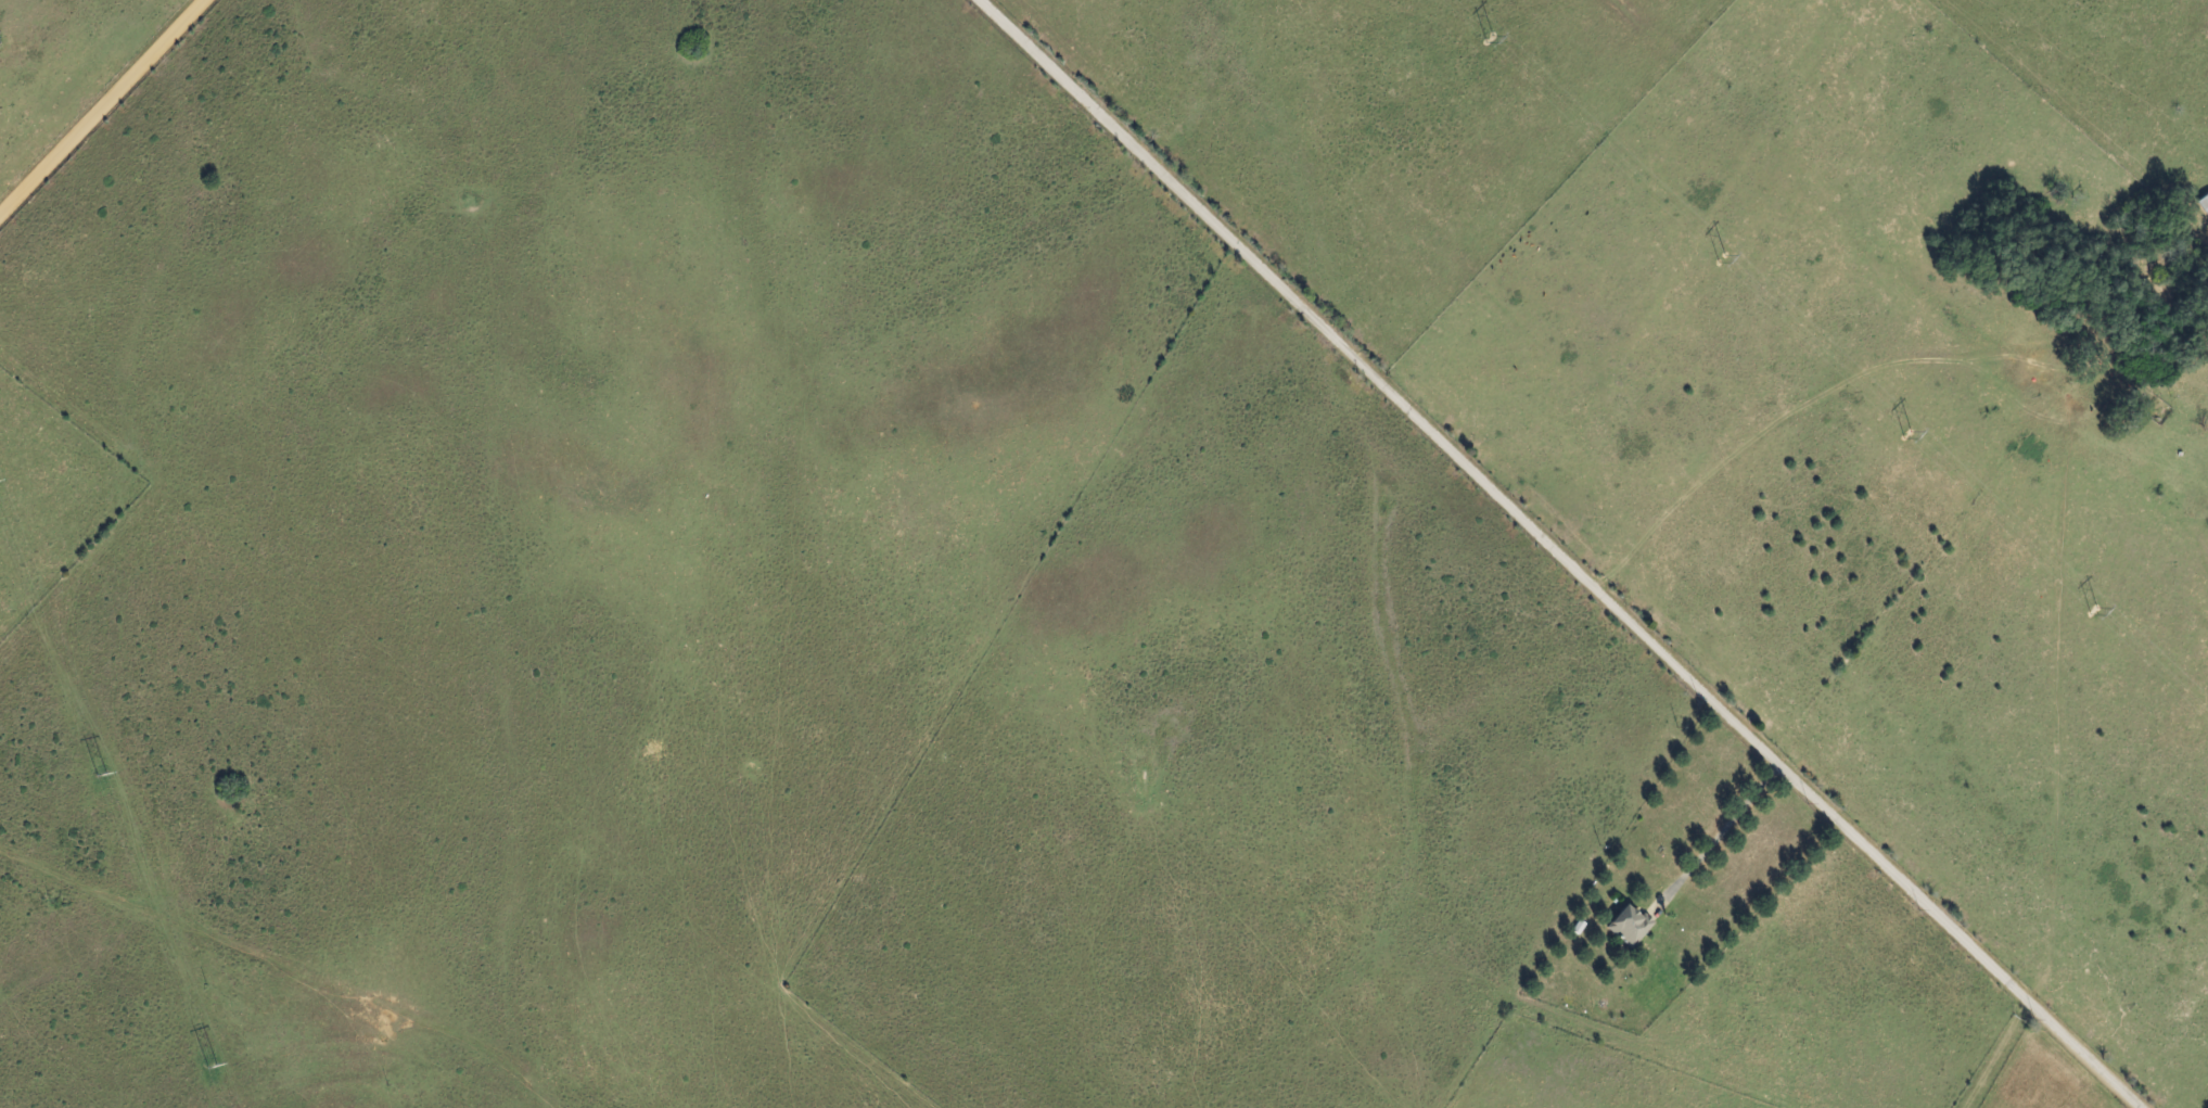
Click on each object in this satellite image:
power tower: (1485, 39)
road: (103, 107)
building: (2205, 203)
power tower: (1715, 260)
power tower: (1902, 431)
road: (1566, 549)
power tower: (2089, 610)
power tower: (91, 773)
road: (1726, 837)
building: (1629, 930)
road: (1995, 1055)
power tower: (200, 1060)

